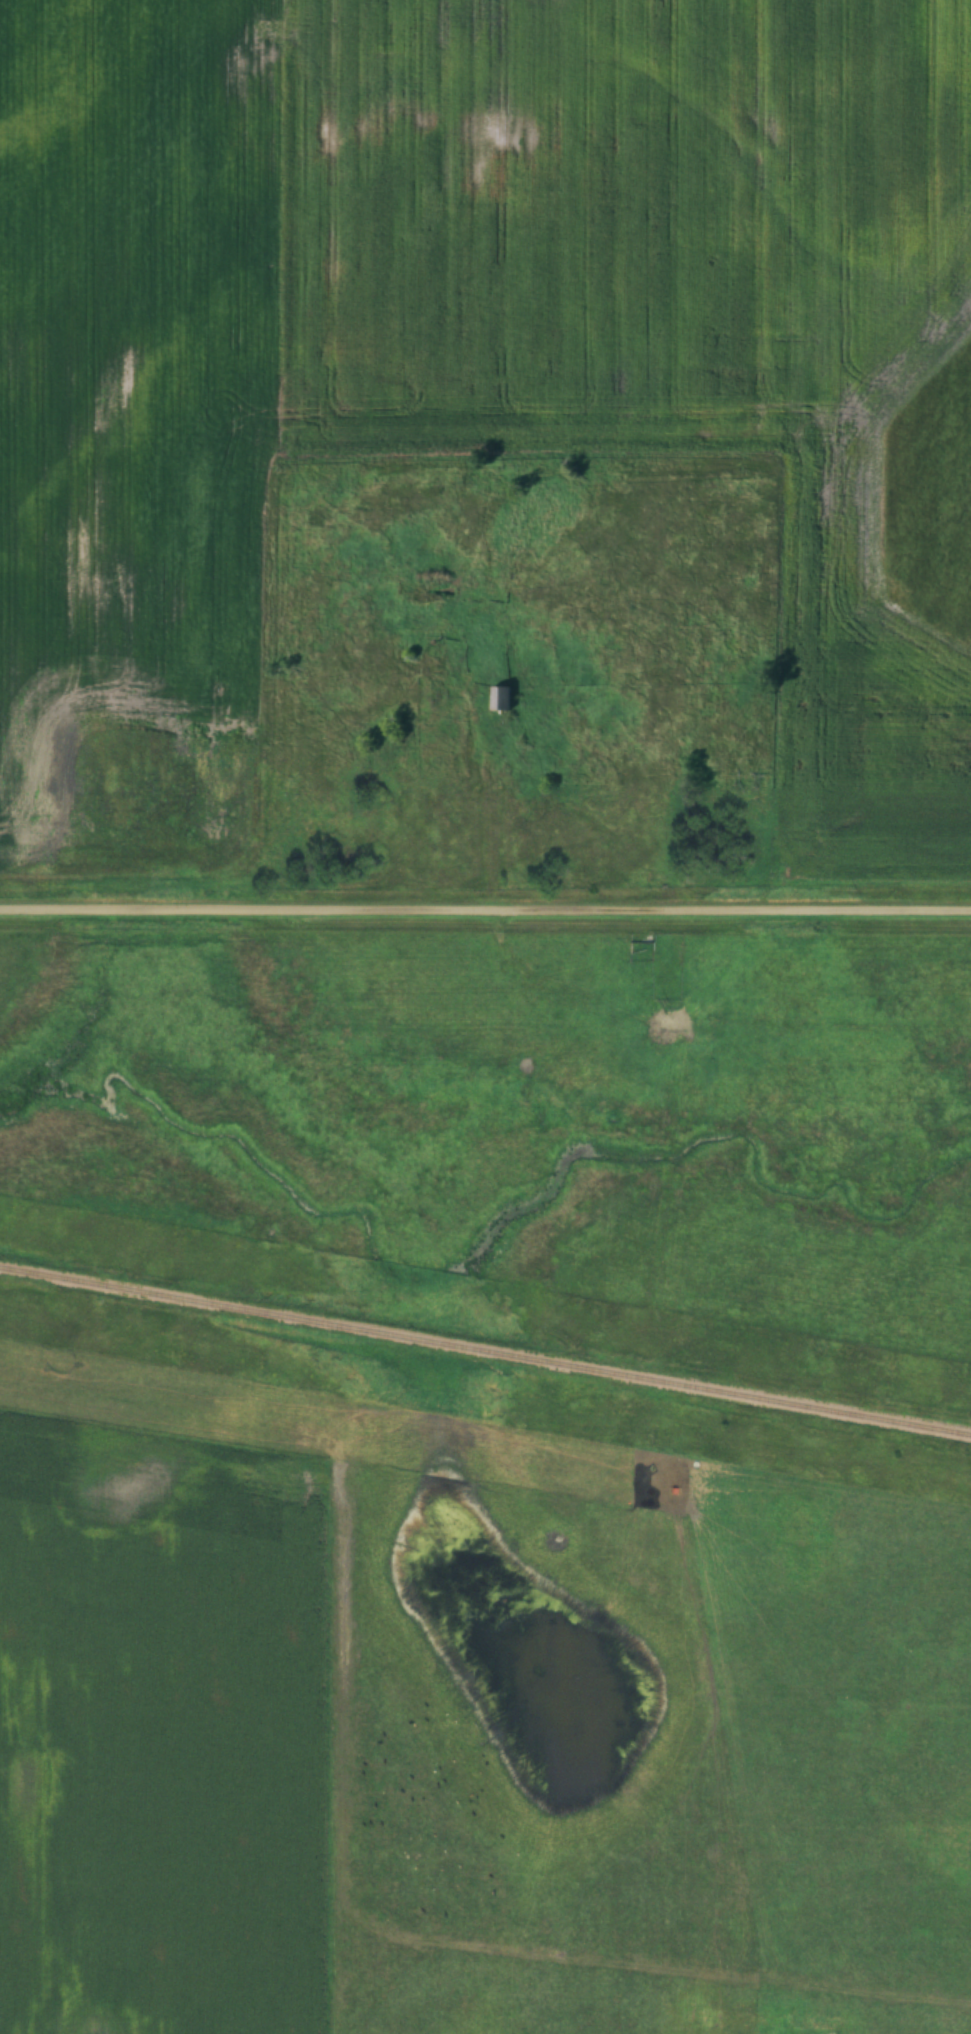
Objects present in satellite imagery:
crop: (133, 423)
building: (501, 698)
road: (485, 913)
railway: (485, 1350)
crop: (162, 1734)

